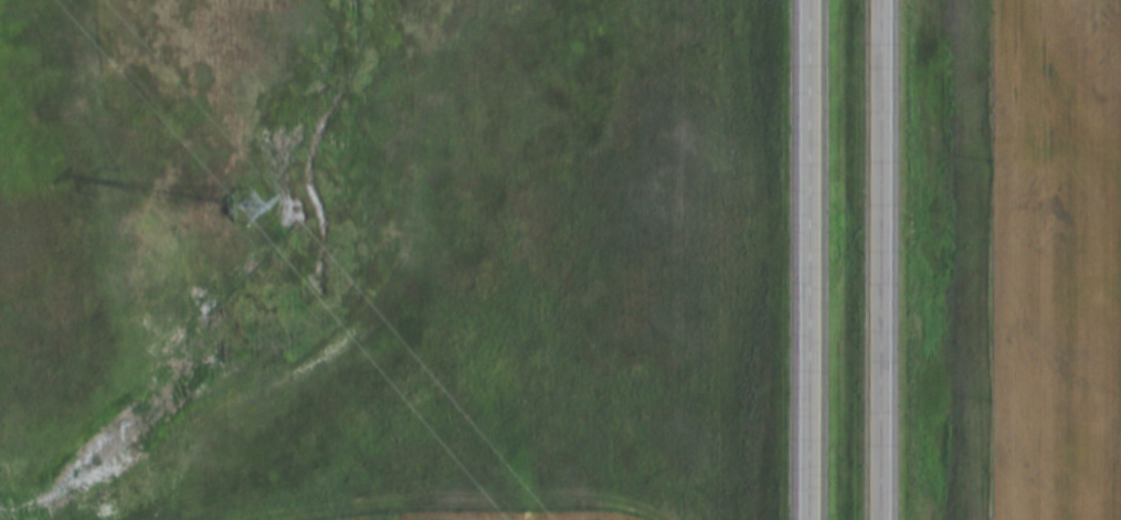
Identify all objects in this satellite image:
power tower: (256, 204)
road: (808, 259)
road: (879, 259)

